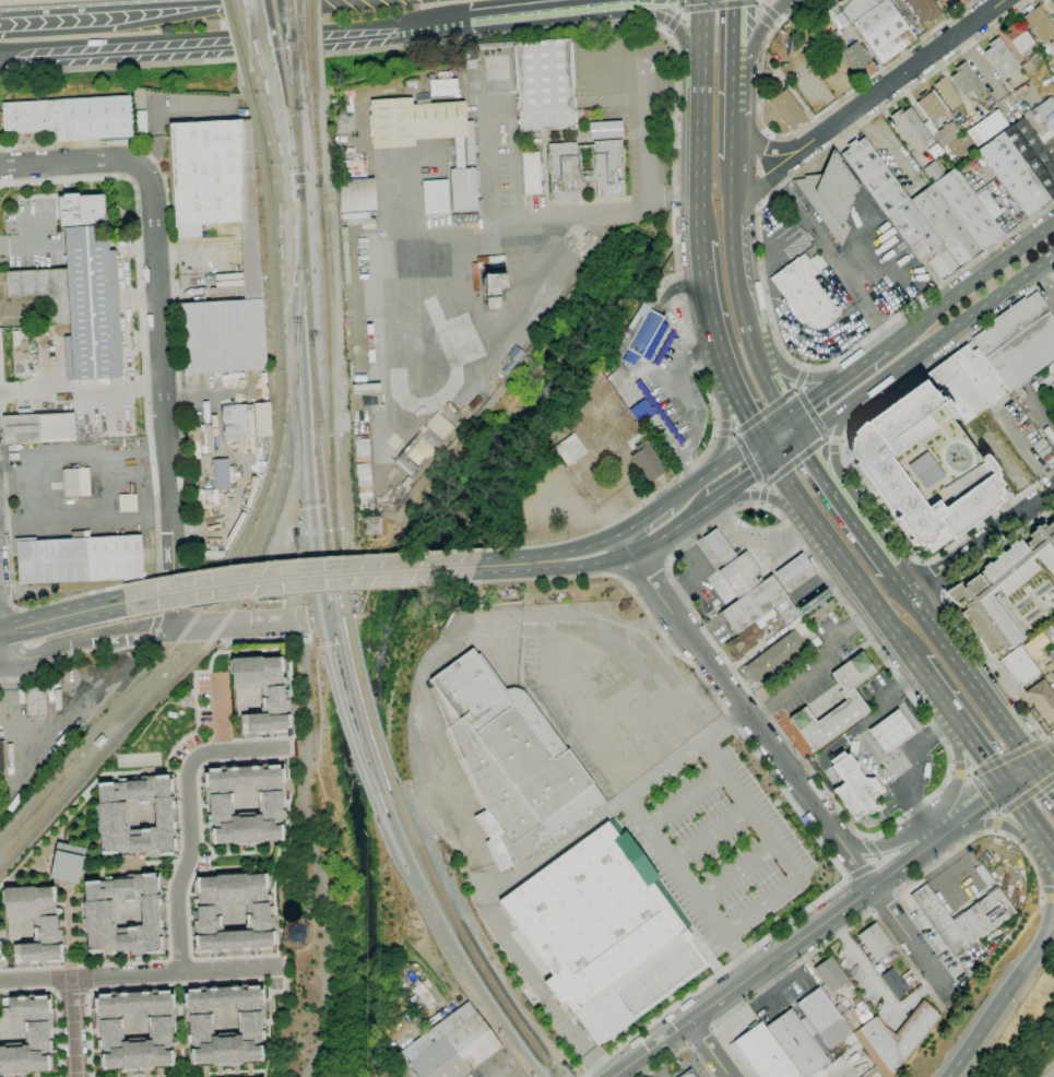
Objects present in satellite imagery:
road: (17, 0)
road: (760, 1)
road: (248, 2)
road: (1050, 4)
road: (680, 5)
road: (721, 7)
road: (545, 9)
building: (924, 9)
road: (108, 11)
road: (768, 11)
building: (837, 16)
railway: (287, 21)
railway: (289, 21)
road: (442, 21)
road: (675, 21)
road: (779, 21)
road: (671, 22)
building: (1040, 24)
building: (878, 26)
road: (756, 29)
road: (668, 32)
road: (739, 34)
building: (1019, 38)
road: (209, 40)
railway: (280, 45)
railway: (296, 45)
railway: (300, 45)
railway: (310, 45)
railway: (237, 46)
railway: (247, 46)
road: (260, 46)
building: (1050, 49)
building: (476, 54)
building: (852, 56)
building: (1002, 58)
building: (1032, 62)
road: (162, 64)
railway: (292, 66)
road: (913, 69)
building: (966, 80)
building: (411, 85)
building: (544, 85)
building: (441, 86)
road: (913, 87)
building: (947, 93)
road: (737, 95)
railway: (295, 99)
railway: (296, 99)
building: (931, 105)
building: (784, 107)
building: (71, 117)
building: (1041, 117)
road: (697, 120)
building: (937, 120)
building: (414, 121)
building: (140, 123)
road: (808, 123)
road: (646, 127)
building: (929, 127)
power tower: (343, 128)
building: (911, 128)
building: (986, 128)
building: (604, 129)
building: (946, 133)
railway: (294, 134)
railway: (312, 137)
railway: (316, 137)
railway: (271, 141)
road: (737, 141)
building: (470, 142)
railway: (298, 144)
building: (951, 146)
road: (774, 149)
building: (935, 151)
building: (459, 152)
building: (957, 162)
building: (1021, 166)
building: (564, 167)
building: (934, 171)
road: (737, 173)
building: (205, 174)
railway: (265, 174)
building: (531, 174)
road: (778, 175)
building: (463, 189)
building: (357, 194)
building: (831, 194)
building: (436, 197)
road: (676, 197)
building: (990, 202)
building: (928, 212)
building: (455, 218)
building: (469, 218)
parking lot: (780, 232)
railway: (299, 252)
railway: (304, 255)
road: (737, 257)
road: (833, 259)
building: (251, 260)
road: (1045, 275)
road: (391, 279)
road: (970, 284)
building: (88, 286)
road: (173, 286)
building: (43, 289)
building: (495, 289)
road: (157, 291)
building: (804, 293)
road: (708, 315)
road: (952, 328)
road: (143, 331)
parking lot: (826, 332)
building: (642, 334)
building: (1018, 341)
road: (287, 356)
road: (843, 356)
flagpole: (800, 359)
road: (862, 363)
railway: (328, 366)
road: (786, 368)
road: (805, 368)
road: (765, 374)
building: (979, 375)
building: (1045, 375)
road: (801, 379)
building: (956, 390)
building: (1041, 393)
road: (814, 399)
building: (1053, 399)
road: (879, 403)
building: (640, 411)
road: (766, 411)
road: (1042, 411)
road: (743, 412)
building: (239, 413)
road: (812, 414)
traffic signals: (789, 416)
building: (262, 419)
road: (827, 419)
road: (727, 426)
road: (773, 427)
road: (795, 427)
building: (39, 428)
road: (717, 431)
road: (726, 431)
traffic signals: (758, 438)
traffic signals: (803, 438)
railway: (321, 439)
road: (833, 440)
road: (841, 441)
road: (833, 446)
road: (765, 449)
road: (787, 449)
building: (570, 450)
road: (739, 451)
road: (1021, 451)
railway: (273, 452)
road: (749, 460)
traffic signals: (772, 460)
building: (648, 461)
road: (794, 462)
road: (820, 465)
building: (925, 468)
building: (222, 474)
railway: (284, 477)
road: (741, 482)
building: (75, 483)
railway: (320, 483)
road: (695, 483)
railway: (304, 485)
road: (763, 494)
road: (772, 498)
building: (128, 502)
road: (761, 504)
road: (994, 513)
road: (644, 518)
power tower: (376, 525)
road: (868, 534)
road: (983, 541)
road: (758, 543)
building: (719, 546)
road: (582, 547)
road: (633, 553)
road: (10, 556)
building: (78, 559)
road: (300, 559)
road: (842, 561)
road: (510, 564)
road: (699, 569)
building: (792, 569)
road: (814, 569)
road: (646, 573)
building: (741, 575)
road: (932, 575)
road: (297, 577)
railway: (341, 587)
building: (1003, 590)
road: (294, 591)
building: (807, 591)
road: (167, 594)
road: (181, 594)
road: (253, 599)
building: (761, 606)
road: (8, 612)
road: (282, 612)
road: (954, 613)
road: (663, 614)
road: (61, 617)
road: (261, 623)
road: (198, 626)
road: (72, 629)
road: (153, 630)
road: (86, 638)
building: (746, 638)
railway: (179, 639)
road: (680, 639)
road: (263, 641)
building: (815, 642)
building: (778, 650)
road: (75, 653)
road: (1, 661)
road: (1, 664)
building: (1018, 666)
road: (818, 667)
road: (968, 670)
building: (1053, 674)
building: (261, 693)
building: (1042, 700)
building: (36, 702)
building: (853, 702)
railway: (367, 708)
road: (904, 713)
road: (220, 717)
railway: (359, 719)
road: (63, 720)
road: (960, 724)
road: (933, 726)
building: (889, 731)
gas station: (889, 731)
railway: (348, 733)
building: (98, 741)
road: (1045, 741)
road: (1046, 741)
railway: (83, 743)
road: (868, 746)
railway: (109, 747)
road: (1051, 747)
road: (684, 751)
building: (512, 758)
road: (1007, 758)
building: (2, 764)
road: (784, 764)
traffic signals: (1038, 766)
road: (1030, 770)
road: (951, 772)
road: (961, 774)
road: (1045, 774)
road: (962, 779)
building: (854, 786)
traffic signals: (1007, 788)
road: (910, 794)
road: (984, 794)
road: (1026, 795)
road: (683, 797)
road: (789, 797)
building: (244, 803)
road: (1026, 815)
building: (135, 816)
road: (189, 817)
road: (996, 821)
road: (998, 821)
road: (995, 831)
road: (709, 833)
railway: (391, 839)
road: (893, 848)
parking lot: (718, 849)
road: (777, 849)
road: (1050, 849)
road: (313, 850)
building: (66, 862)
road: (875, 863)
road: (932, 866)
road: (735, 871)
road: (688, 885)
road: (1050, 897)
road: (1042, 899)
road: (1049, 899)
road: (883, 902)
building: (230, 913)
building: (122, 914)
road: (490, 916)
building: (963, 918)
building: (34, 922)
building: (294, 932)
storage tank: (294, 932)
road: (809, 932)
building: (602, 933)
railway: (464, 939)
road: (1045, 939)
building: (875, 942)
railway: (455, 944)
road: (821, 948)
road: (139, 973)
building: (831, 974)
building: (895, 982)
building: (425, 996)
road: (57, 1006)
road: (993, 1013)
building: (855, 1017)
building: (826, 1019)
building: (224, 1023)
road: (72, 1027)
building: (133, 1029)
building: (26, 1034)
road: (698, 1035)
building: (895, 1039)
building: (796, 1044)
building: (452, 1045)
road: (708, 1049)
road: (683, 1051)
building: (763, 1053)
building: (688, 1074)

